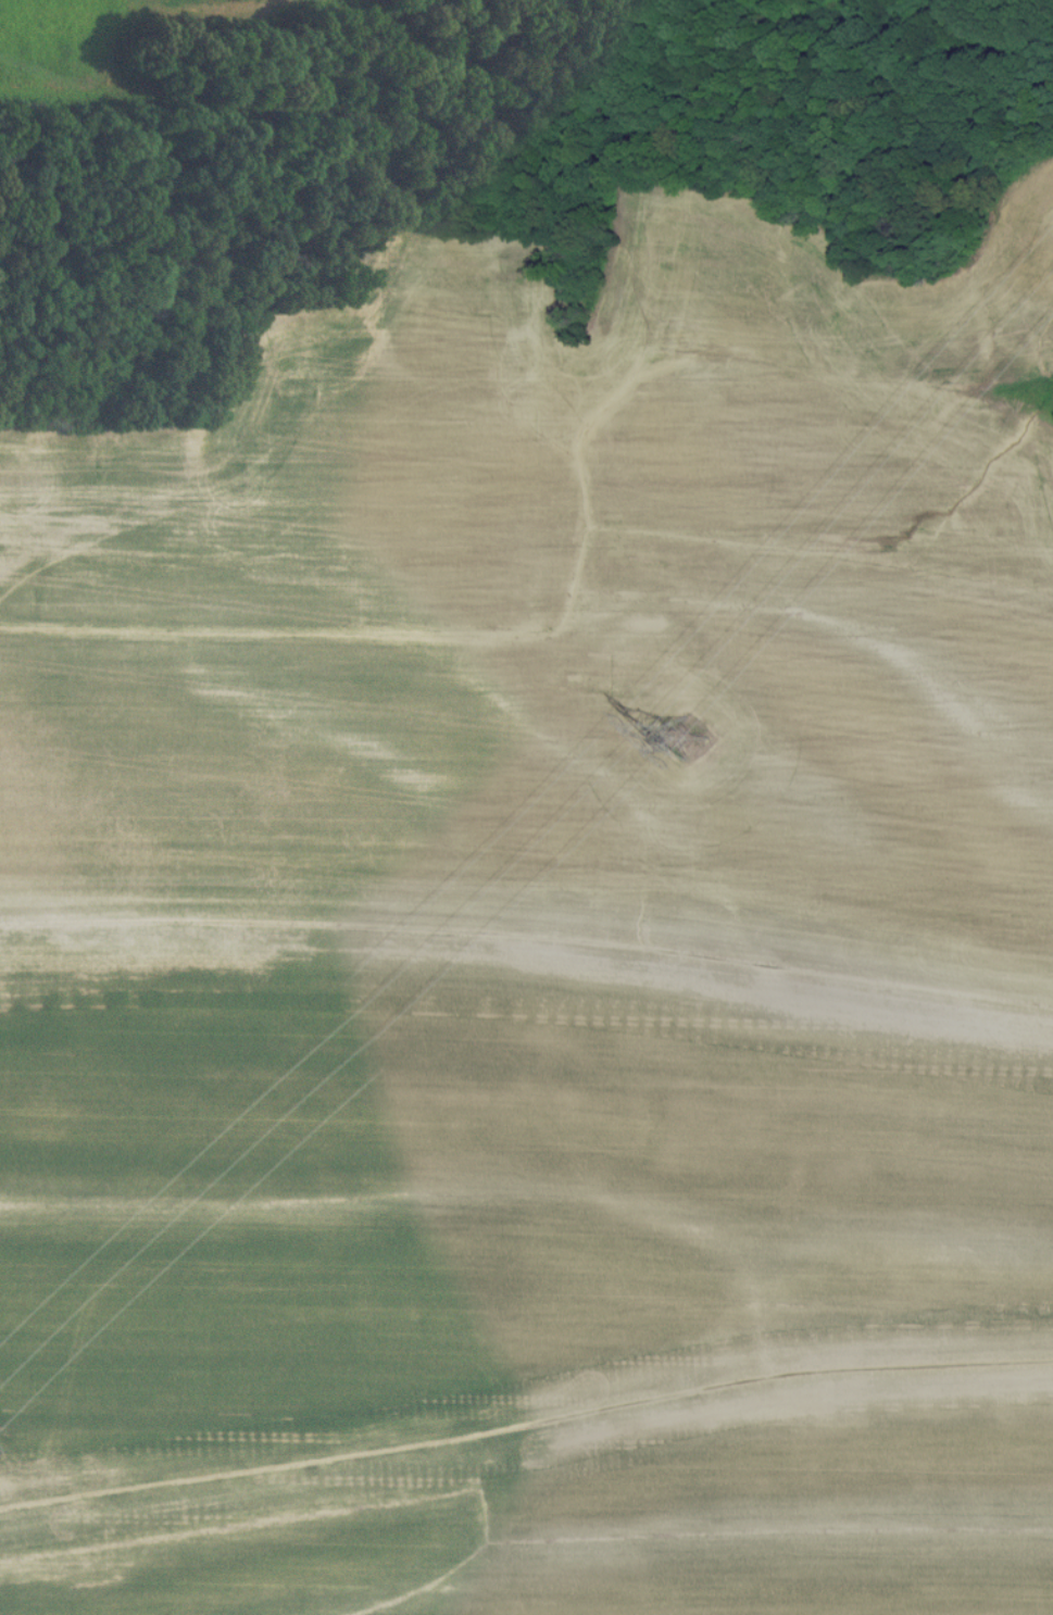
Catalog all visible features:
power tower: (692, 741)

